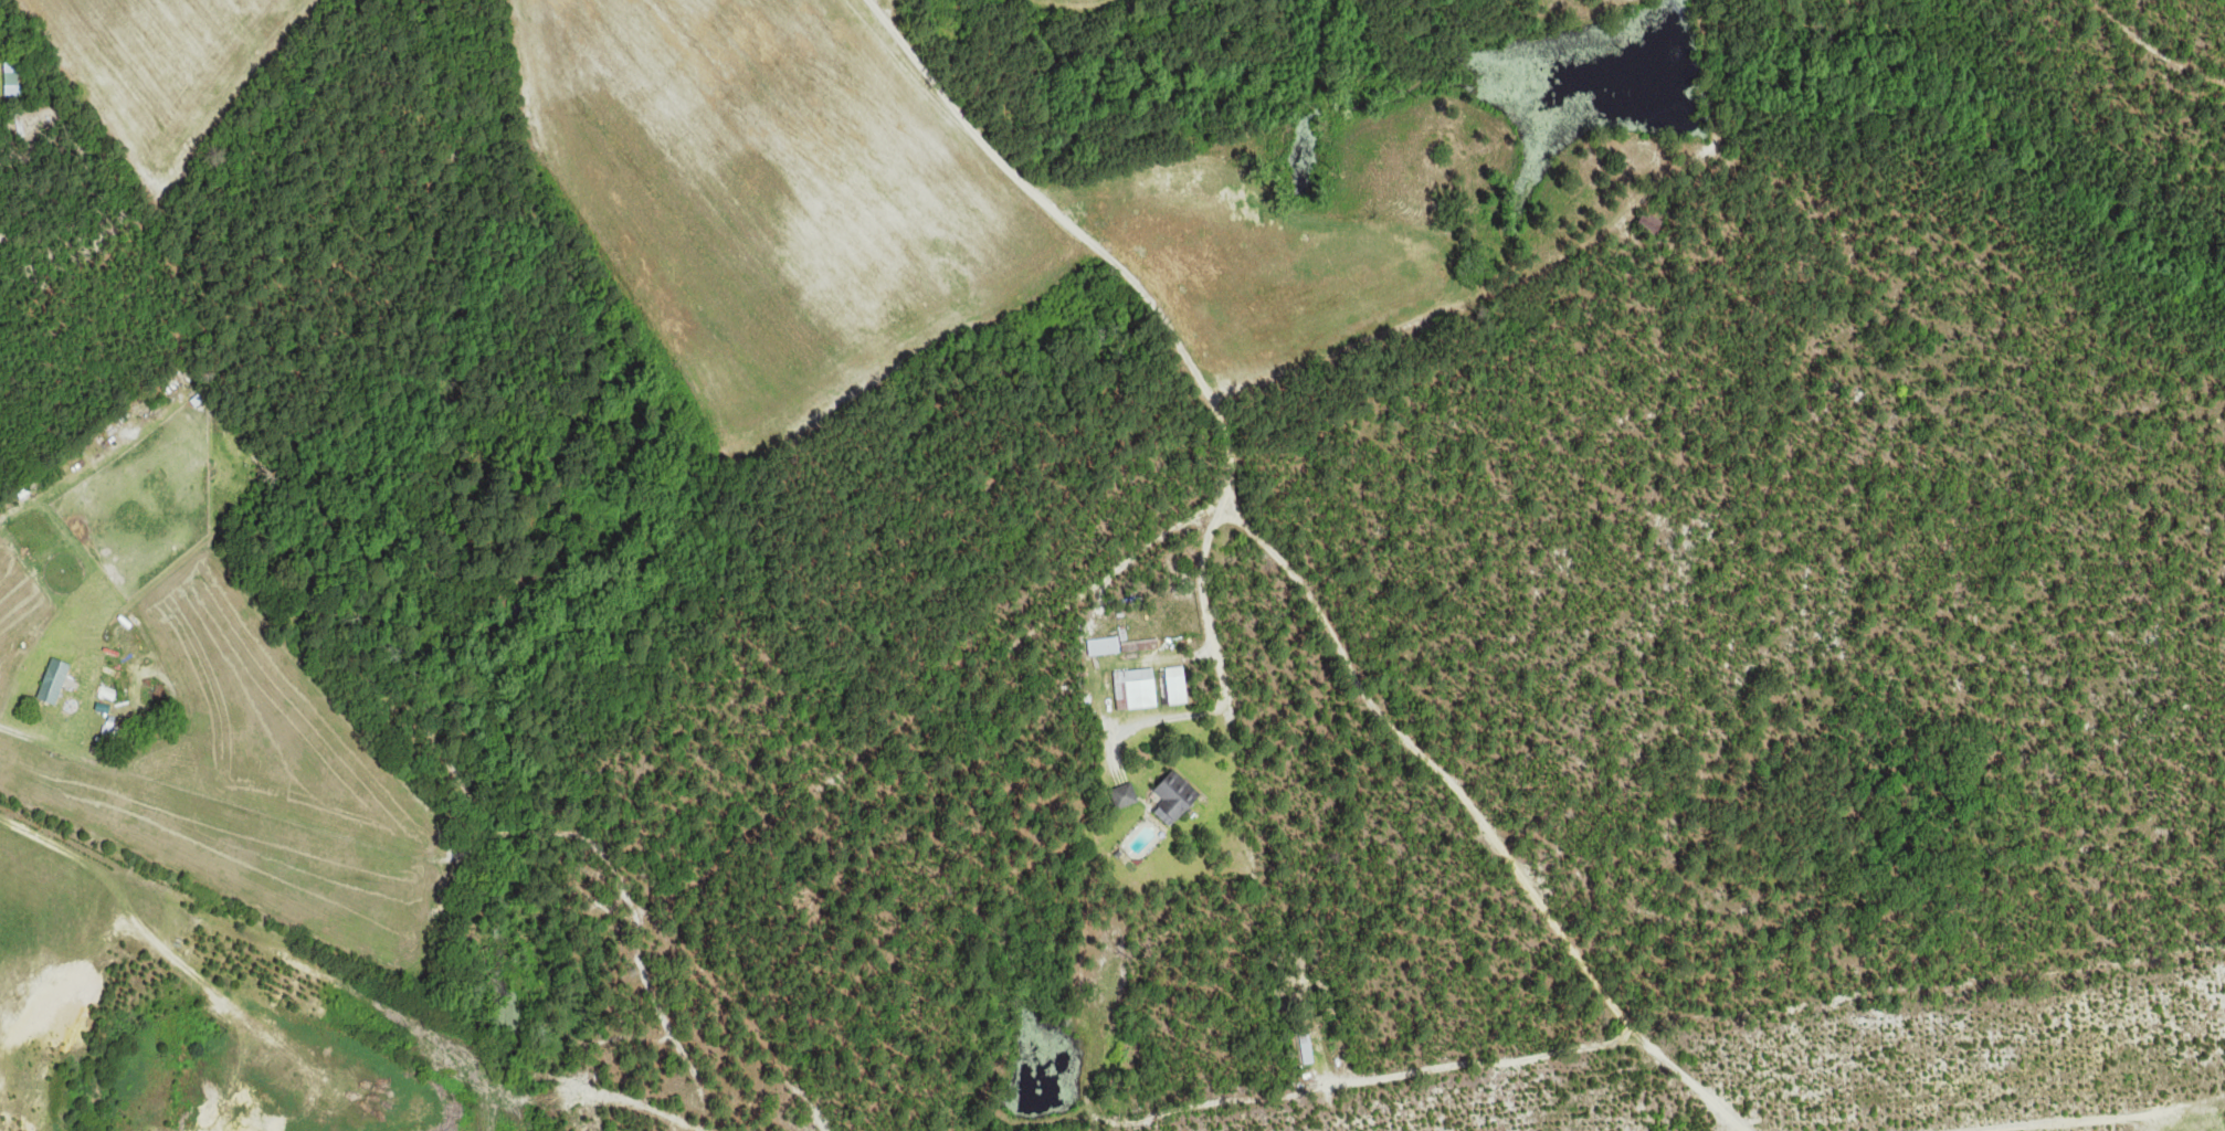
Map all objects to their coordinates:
building: (10, 78)
road: (1154, 305)
building: (1104, 644)
road: (999, 652)
building: (52, 678)
building: (1175, 683)
building: (1140, 686)
road: (10, 727)
building: (1122, 792)
building: (1175, 792)

